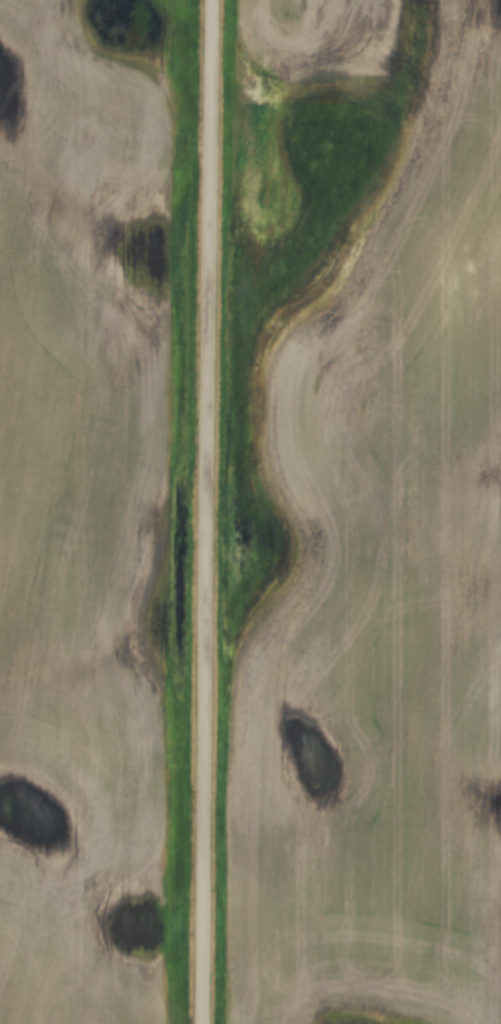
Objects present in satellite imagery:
road: (202, 512)

